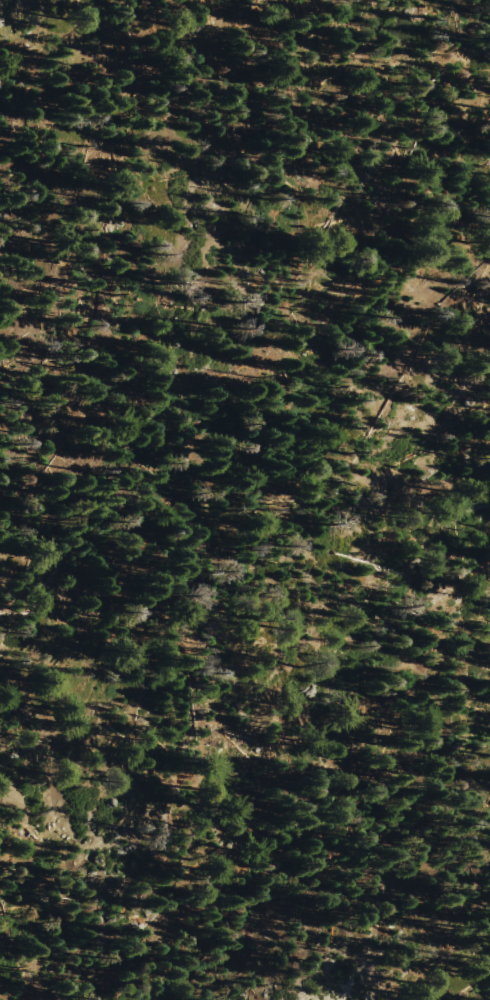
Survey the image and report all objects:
road: (181, 474)

